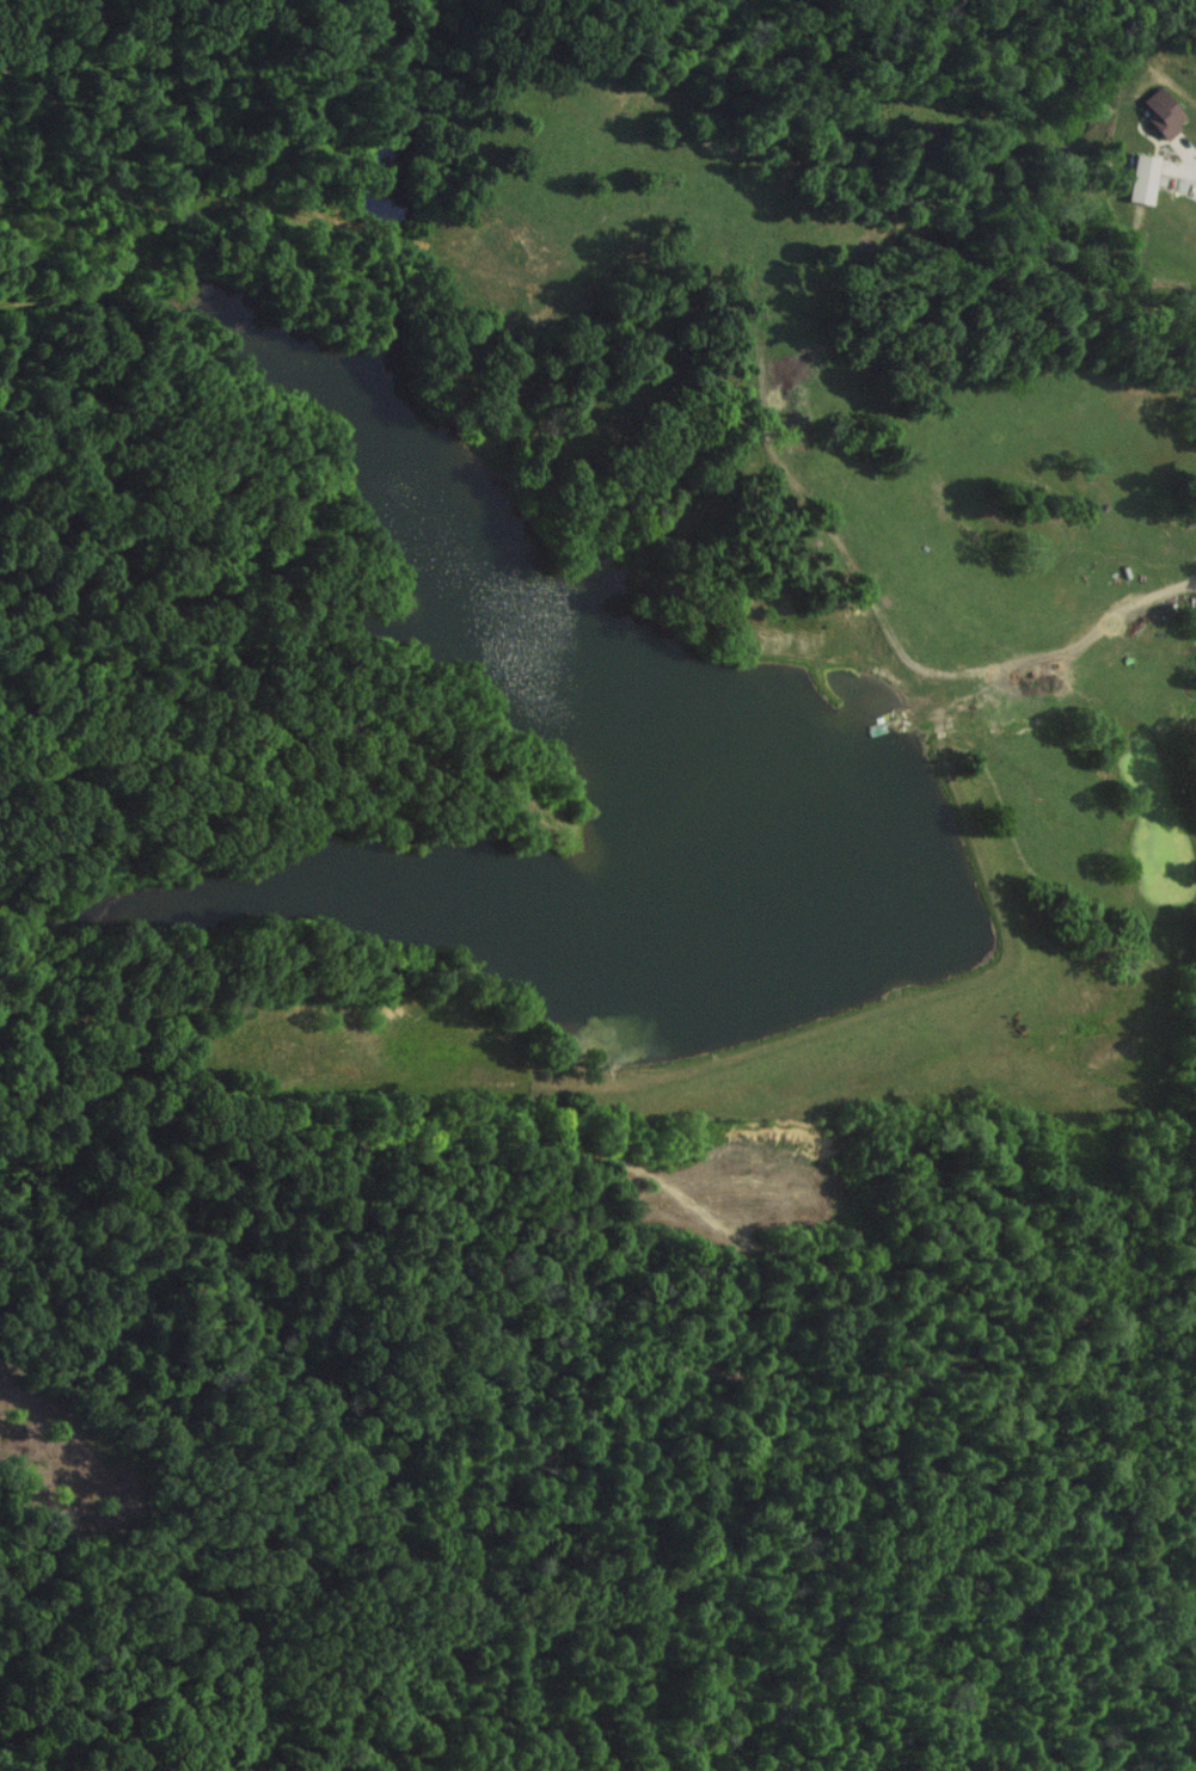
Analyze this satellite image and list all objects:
building: (1164, 111)
building: (1143, 178)

